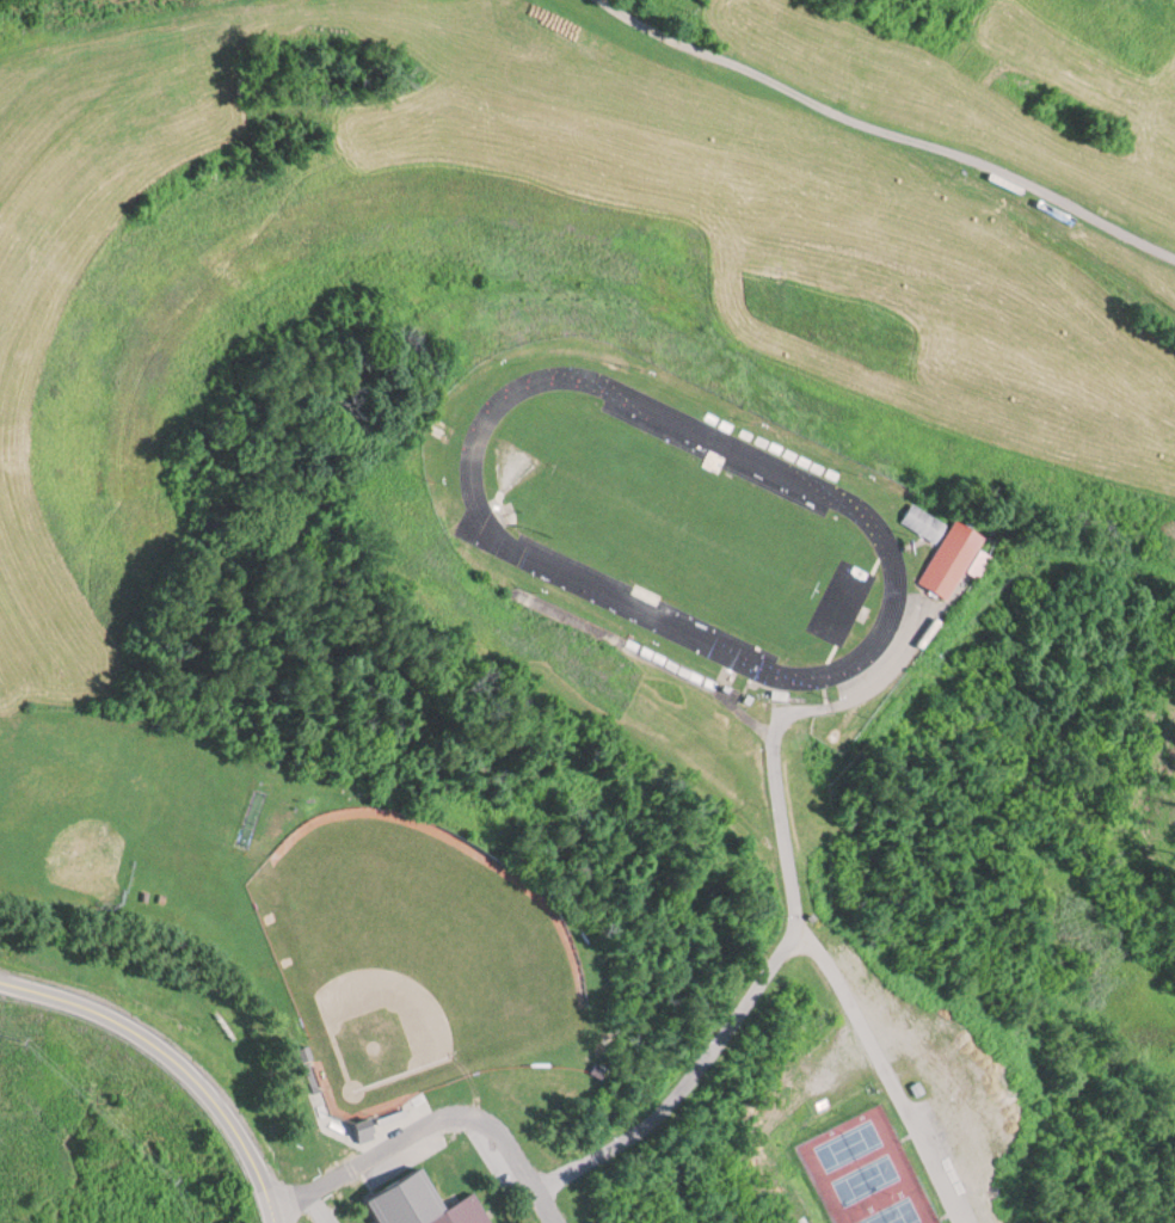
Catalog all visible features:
road: (890, 133)
building: (922, 520)
track: (485, 524)
building: (947, 558)
road: (798, 908)
park: (414, 955)
road: (177, 1055)
road: (887, 1069)
road: (432, 1119)
building: (424, 1205)

